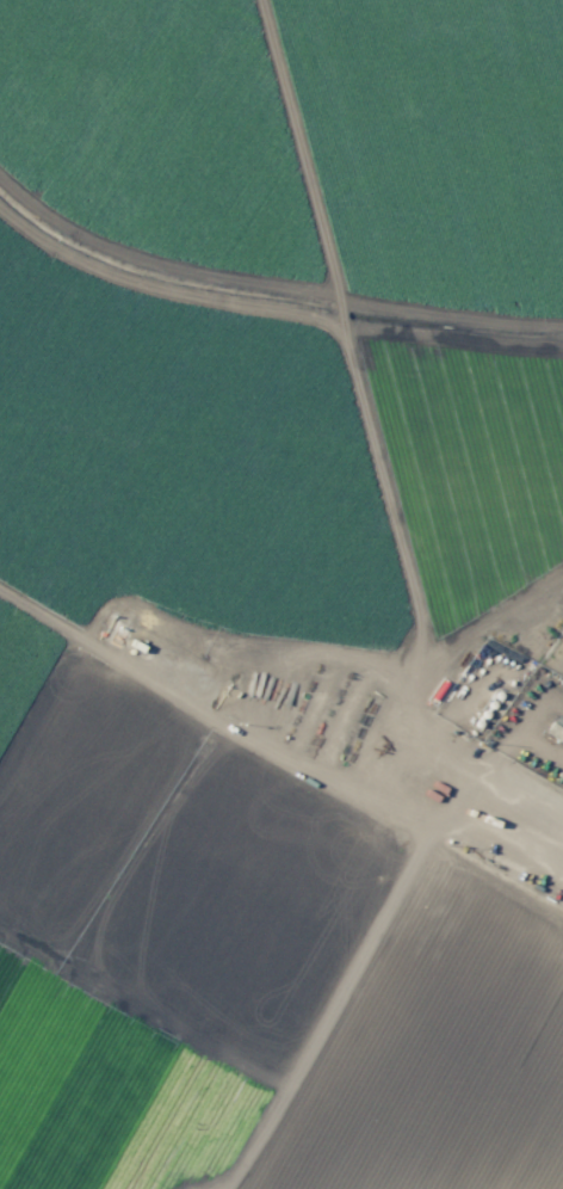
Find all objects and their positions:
crop: (264, 580)
road: (475, 838)

